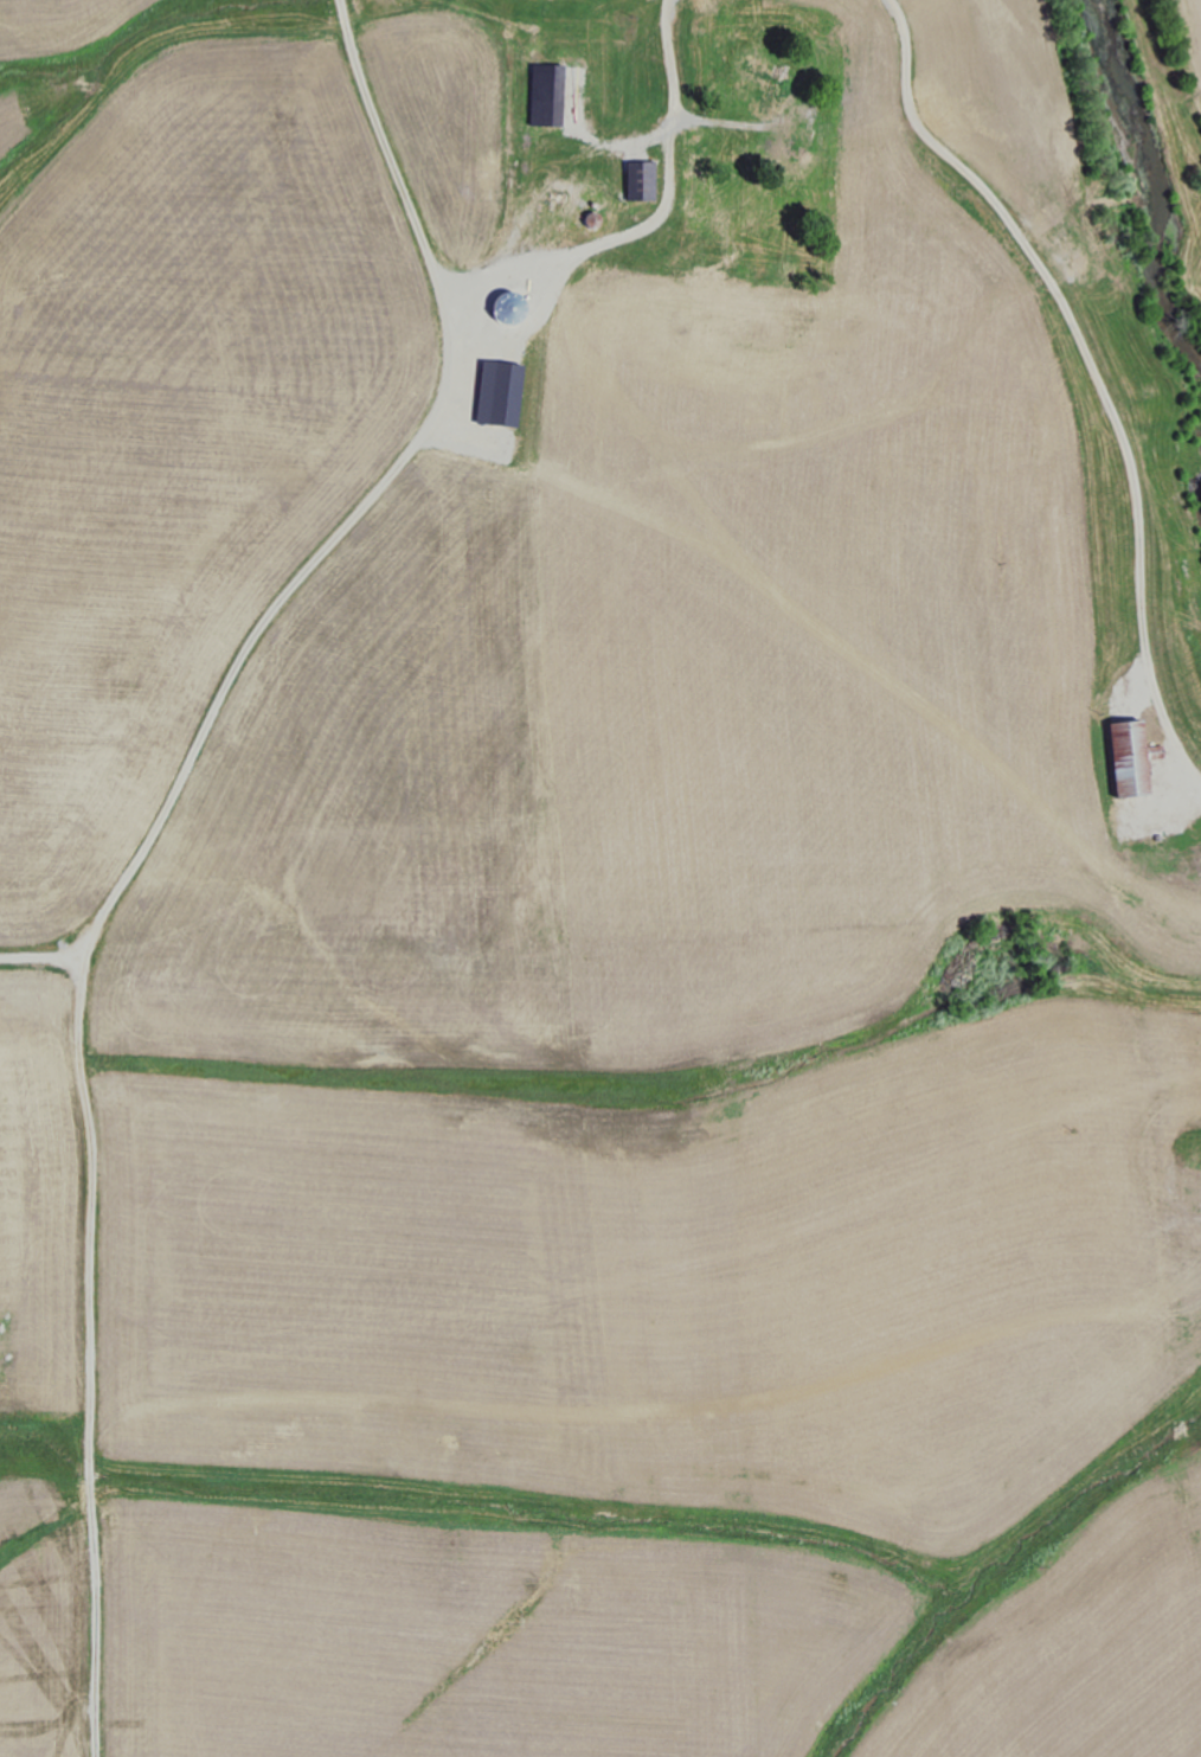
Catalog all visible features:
building: (770, 81)
building: (642, 182)
road: (398, 187)
road: (1090, 370)
building: (500, 395)
road: (367, 499)
building: (1131, 758)
road: (90, 1348)

